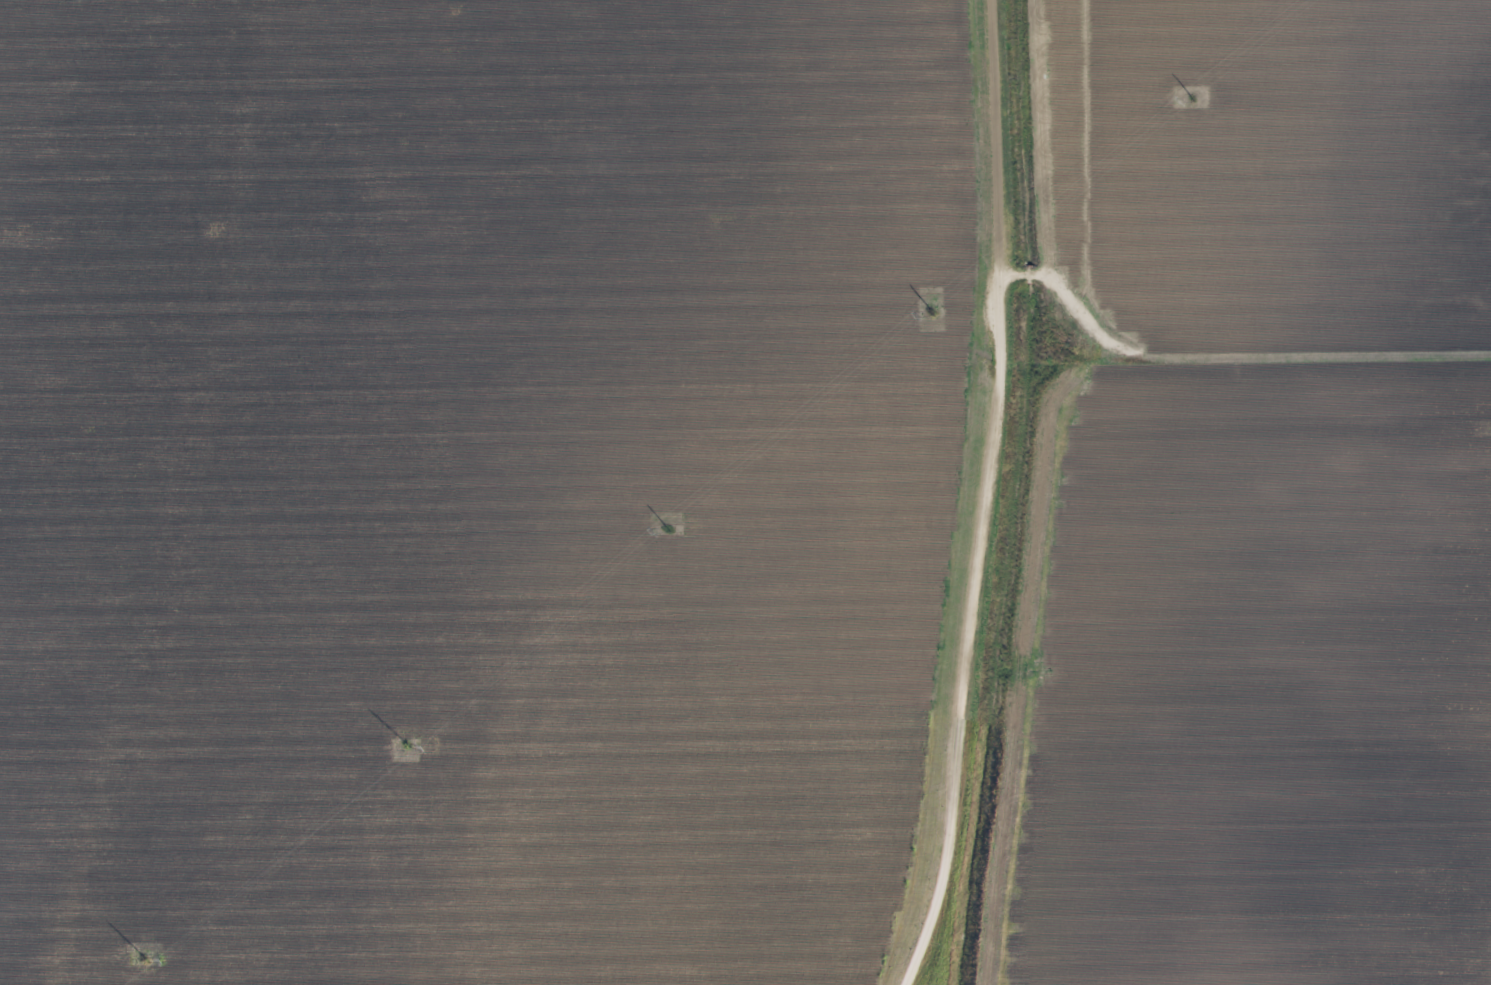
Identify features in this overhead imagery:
power tower: (1196, 100)
power tower: (936, 311)
power tower: (670, 530)
power tower: (409, 744)
power tower: (145, 960)

